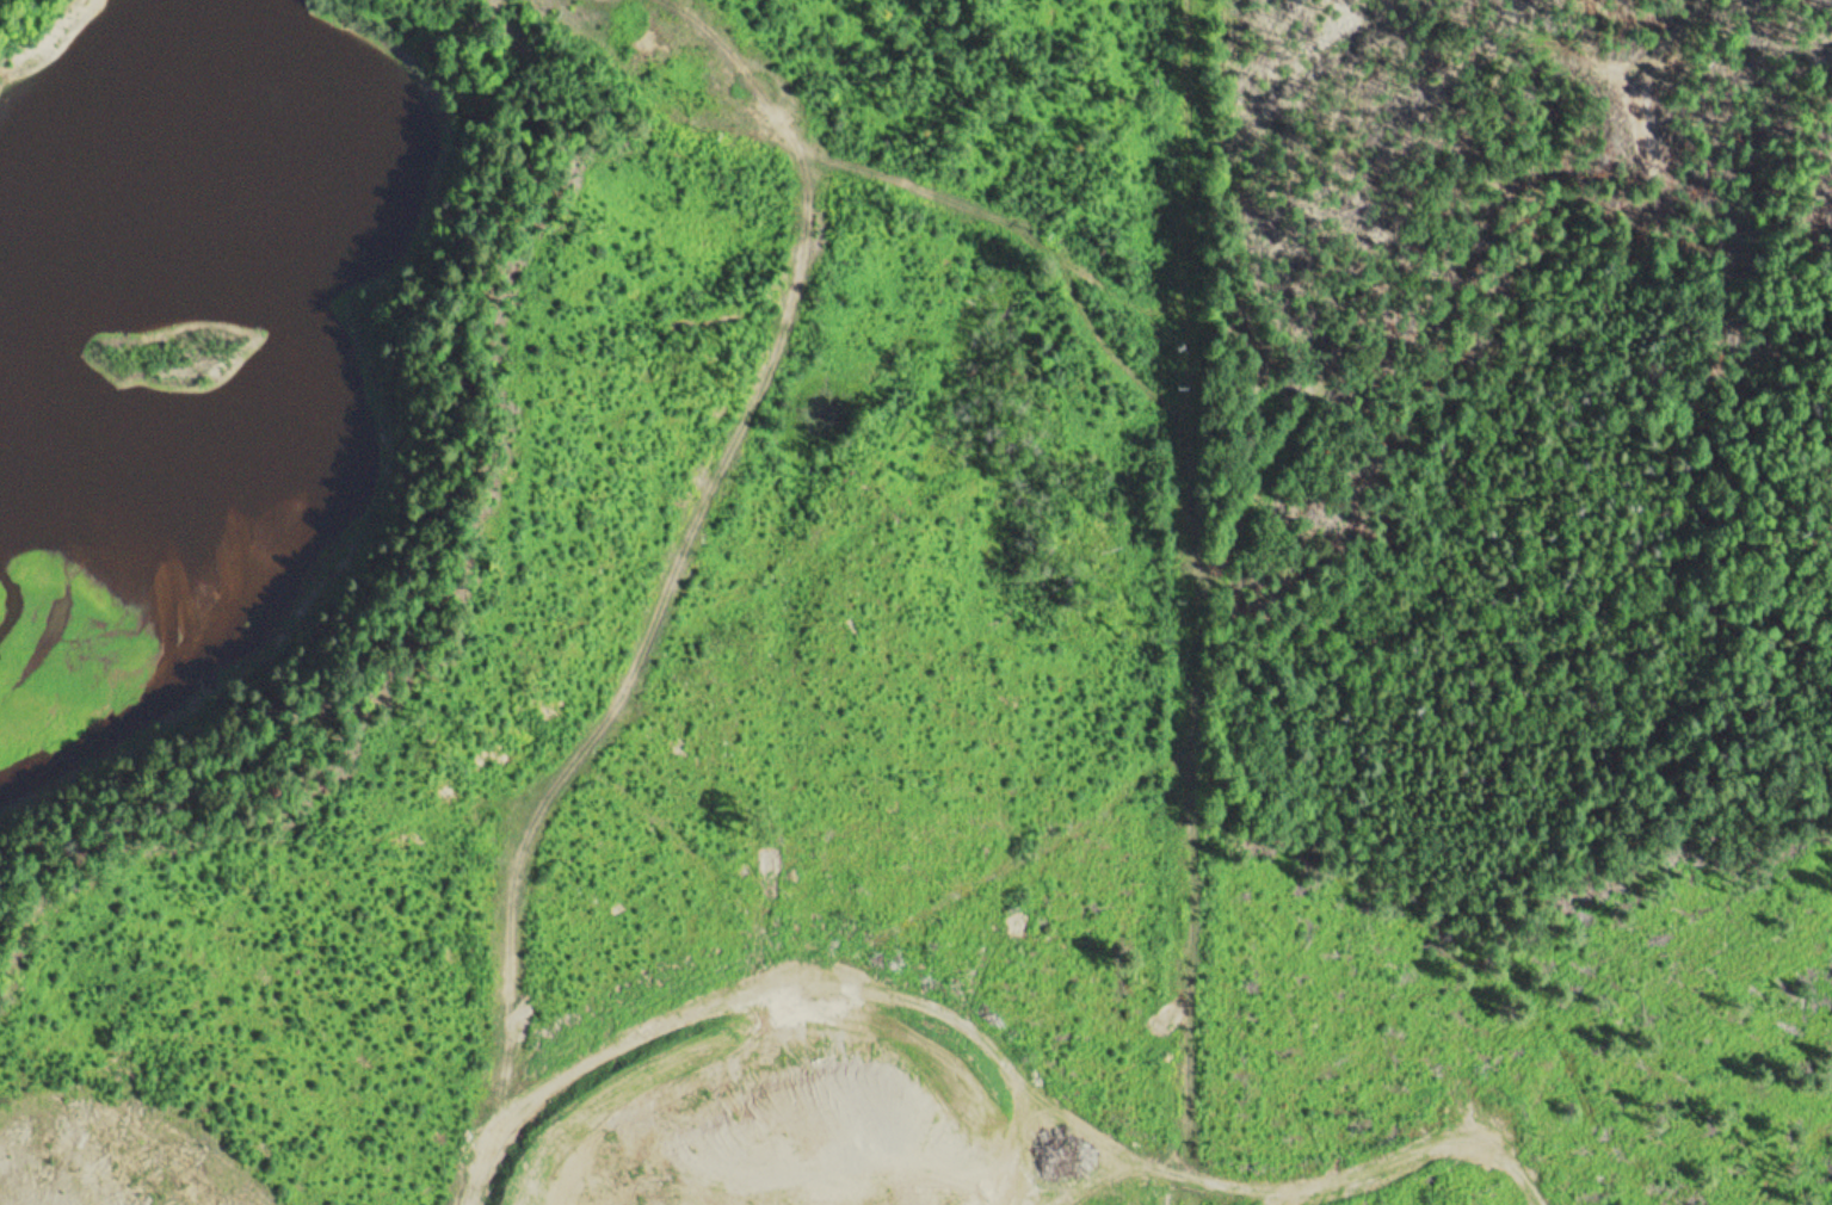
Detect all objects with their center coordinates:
road: (666, 574)

